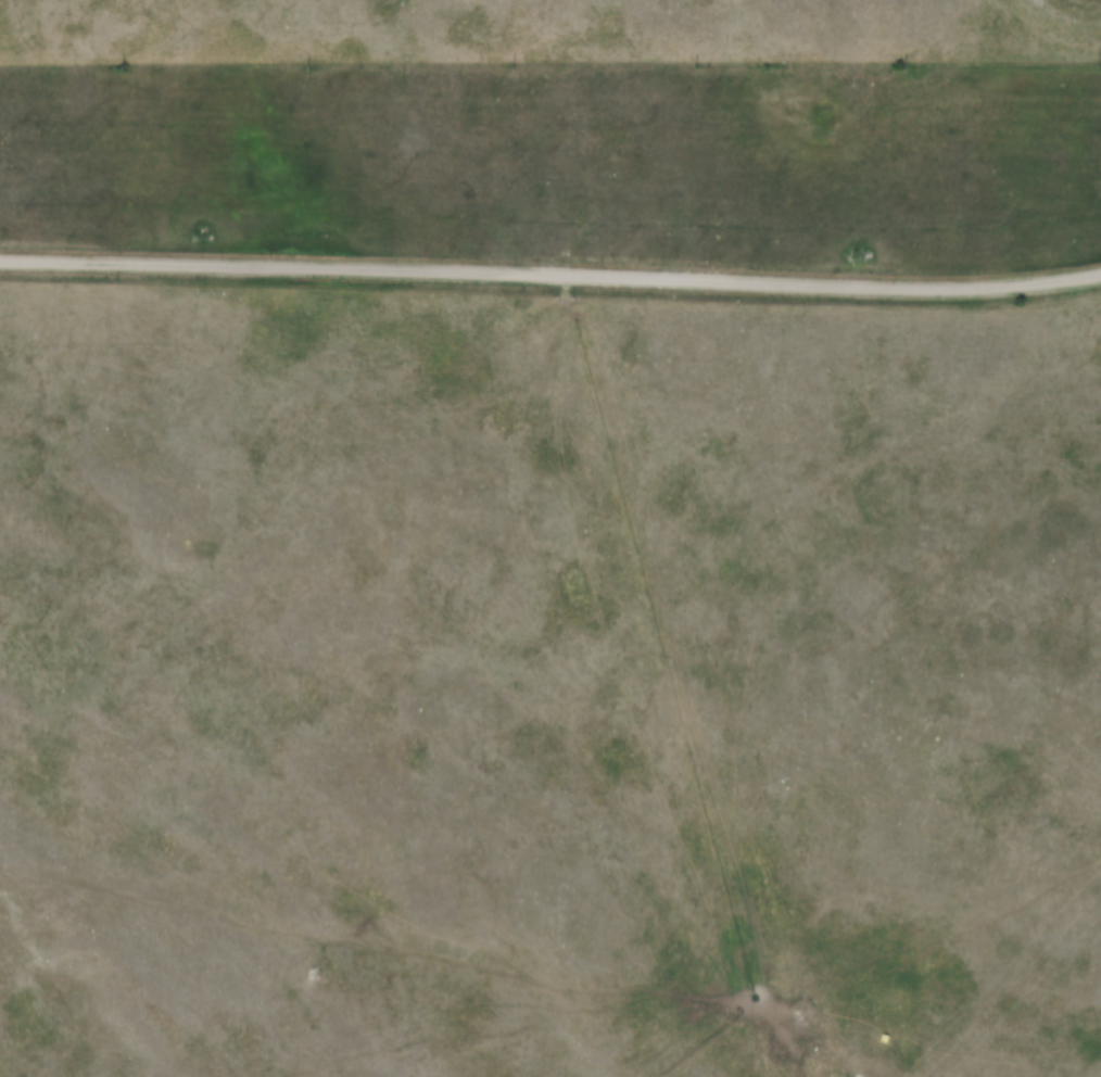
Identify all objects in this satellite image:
road: (550, 273)

